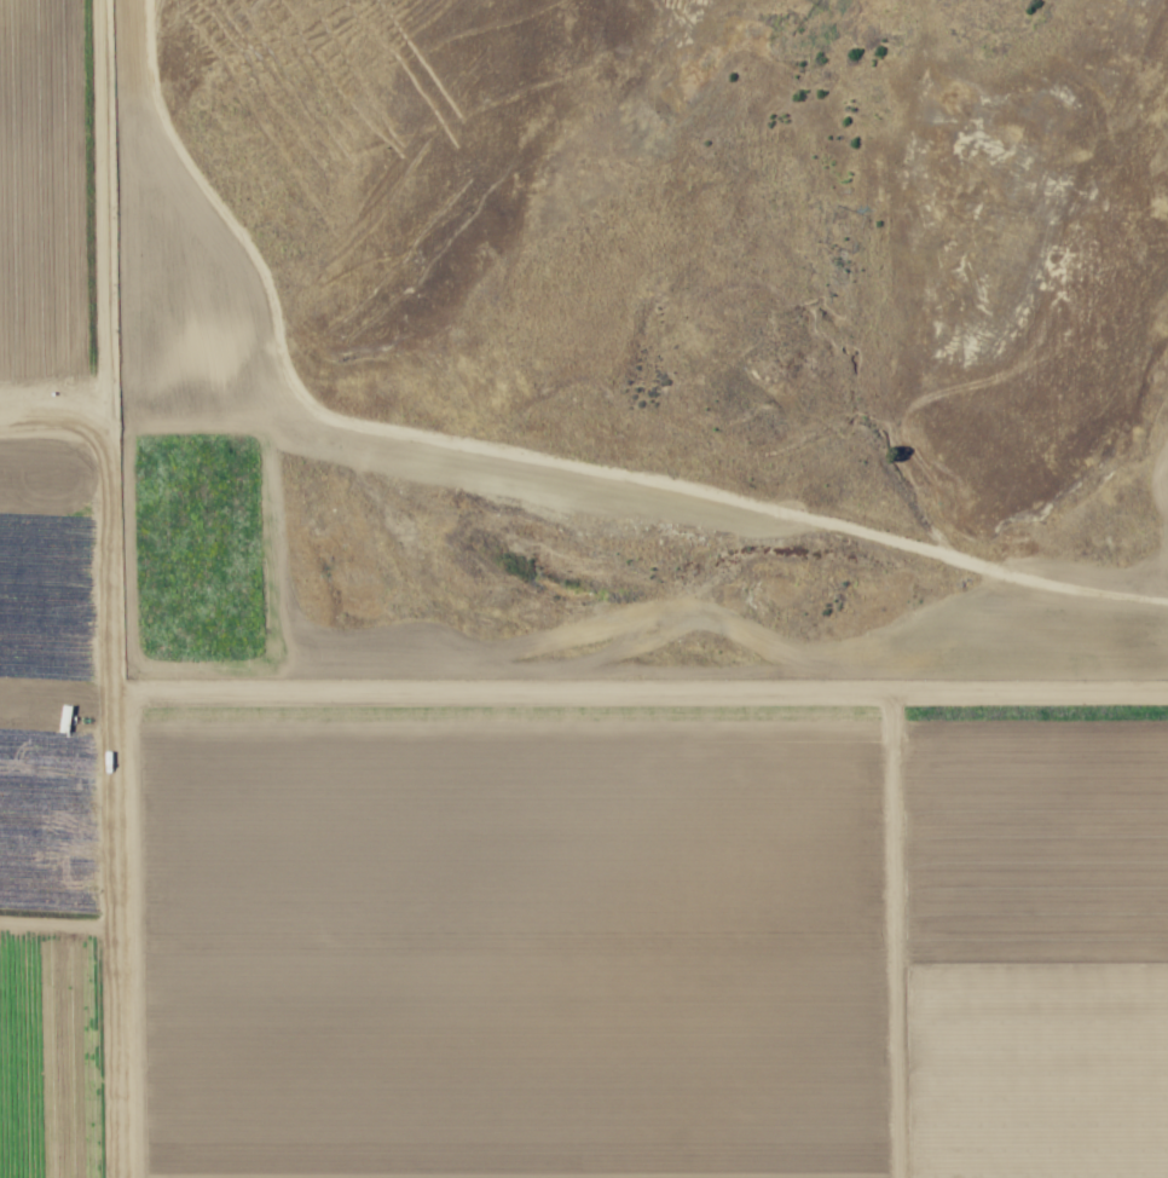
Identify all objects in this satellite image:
road: (640, 699)
road: (111, 756)
crop: (530, 870)

